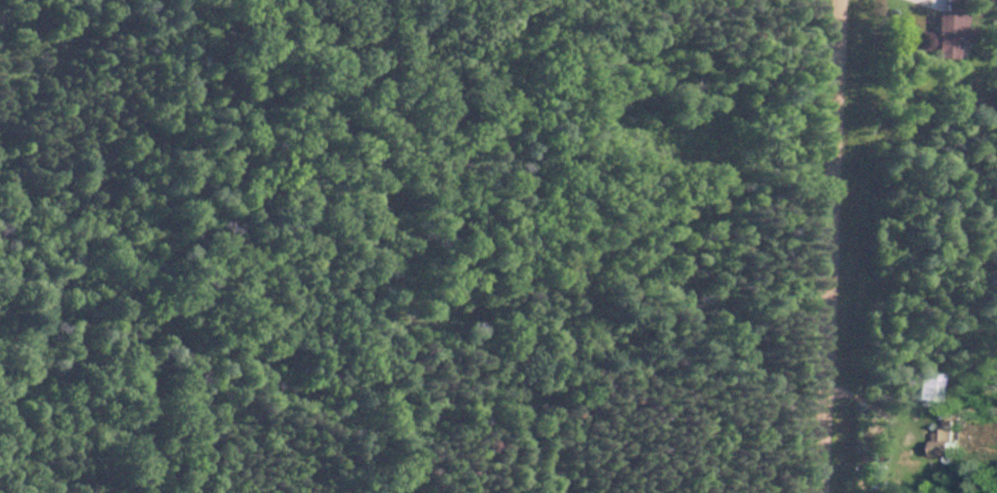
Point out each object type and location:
building: (948, 27)
park: (467, 243)
road: (827, 246)
building: (925, 385)
building: (943, 431)

